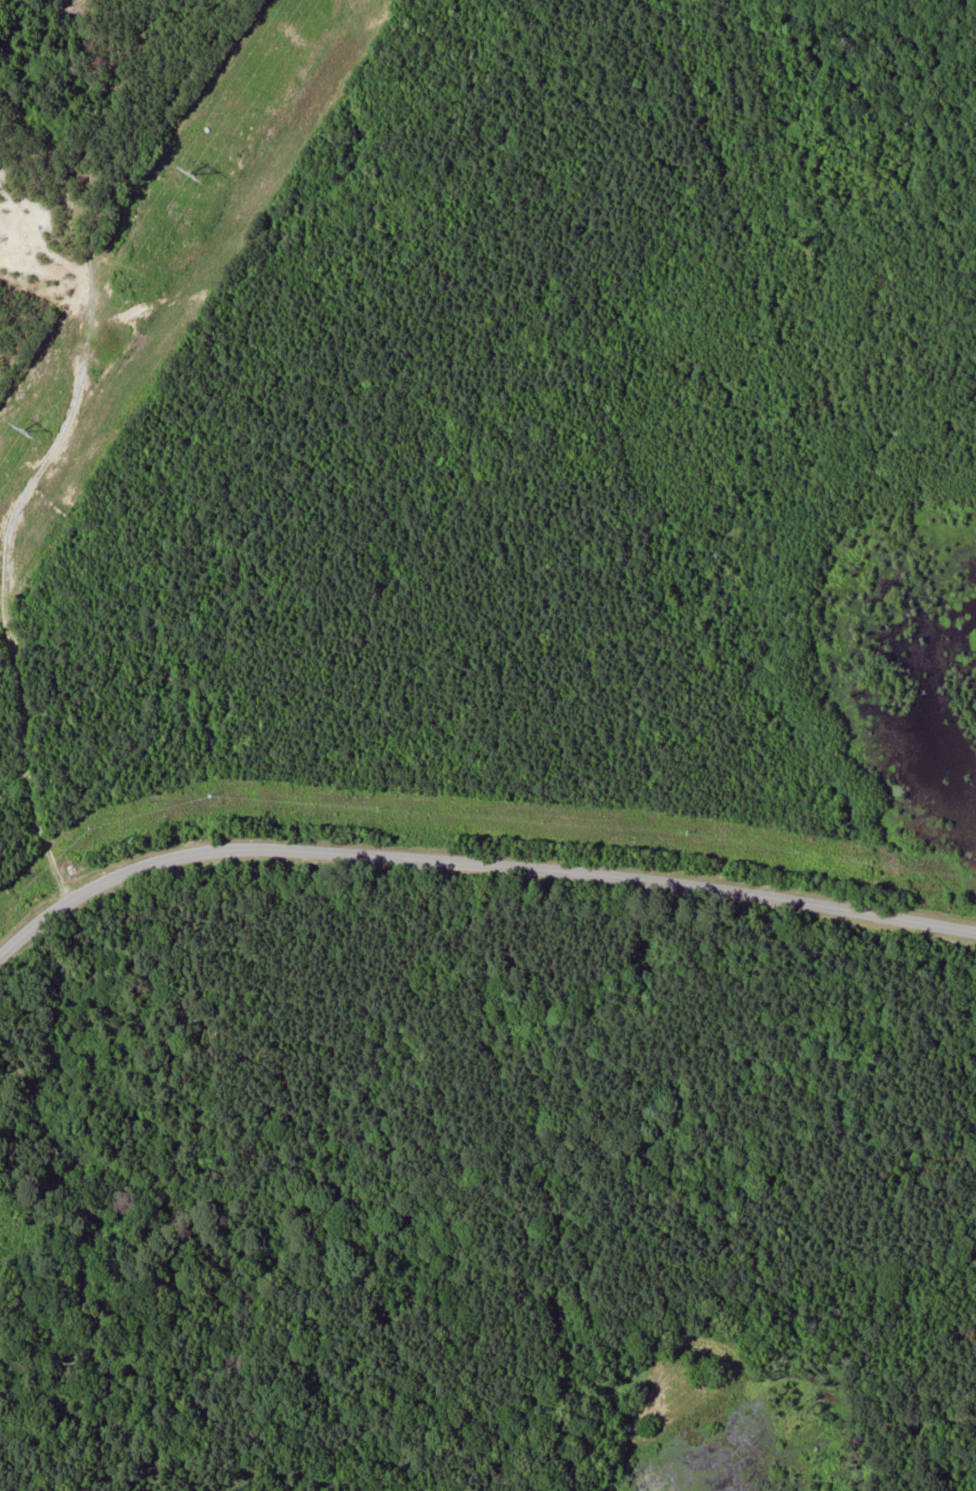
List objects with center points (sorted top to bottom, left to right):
power tower: (193, 173)
power tower: (28, 430)
road: (474, 863)

